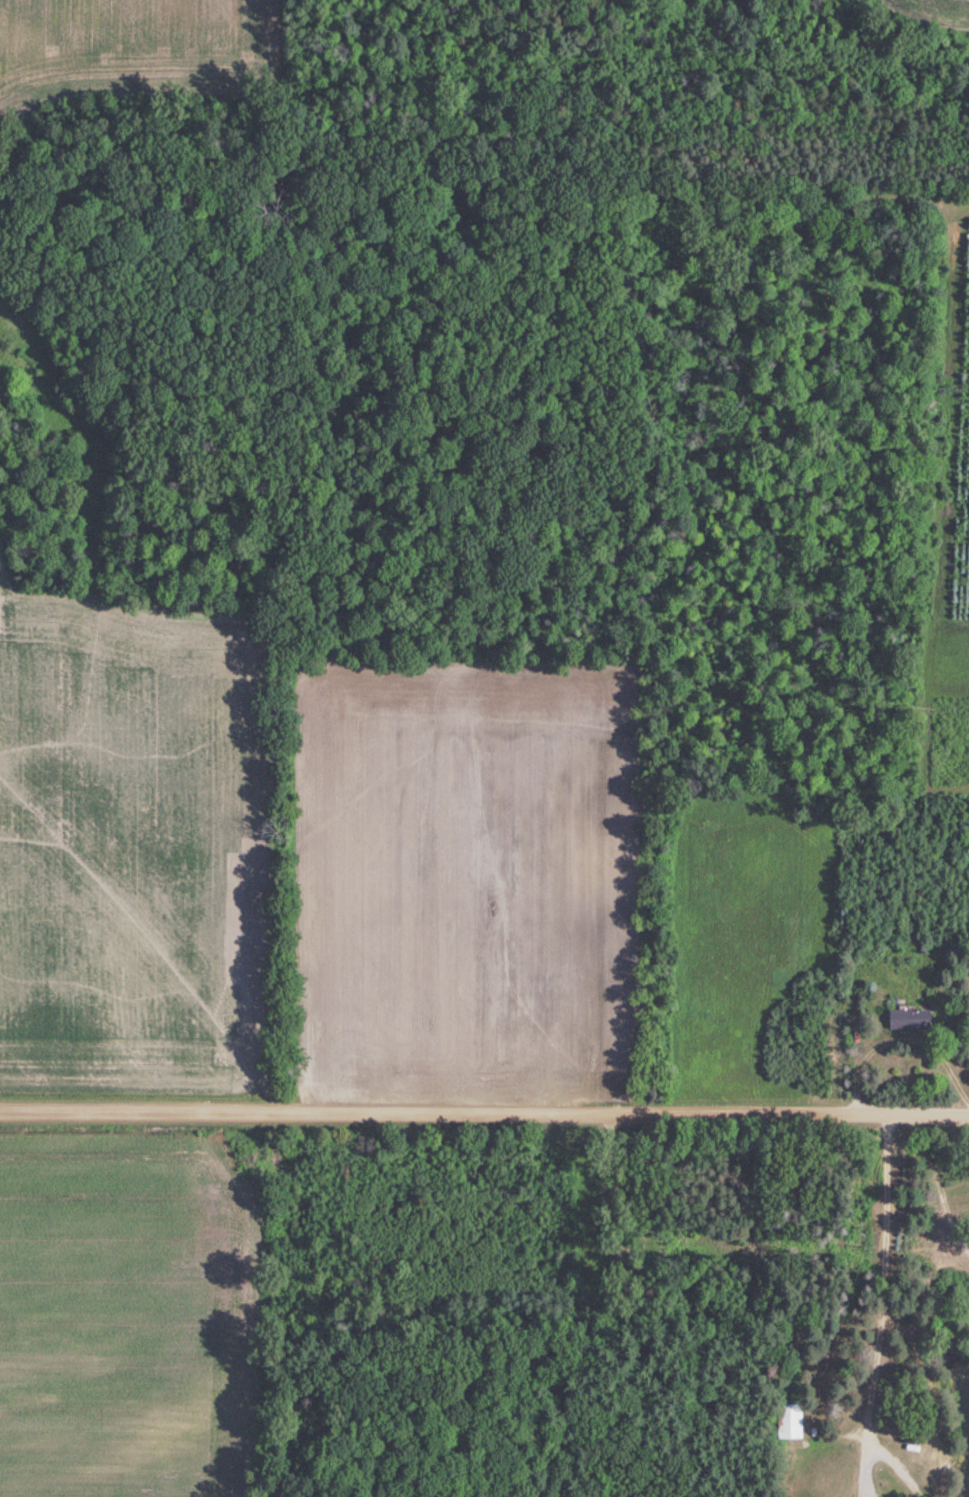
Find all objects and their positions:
building: (907, 1020)
road: (484, 1113)
road: (886, 1306)
building: (788, 1421)

